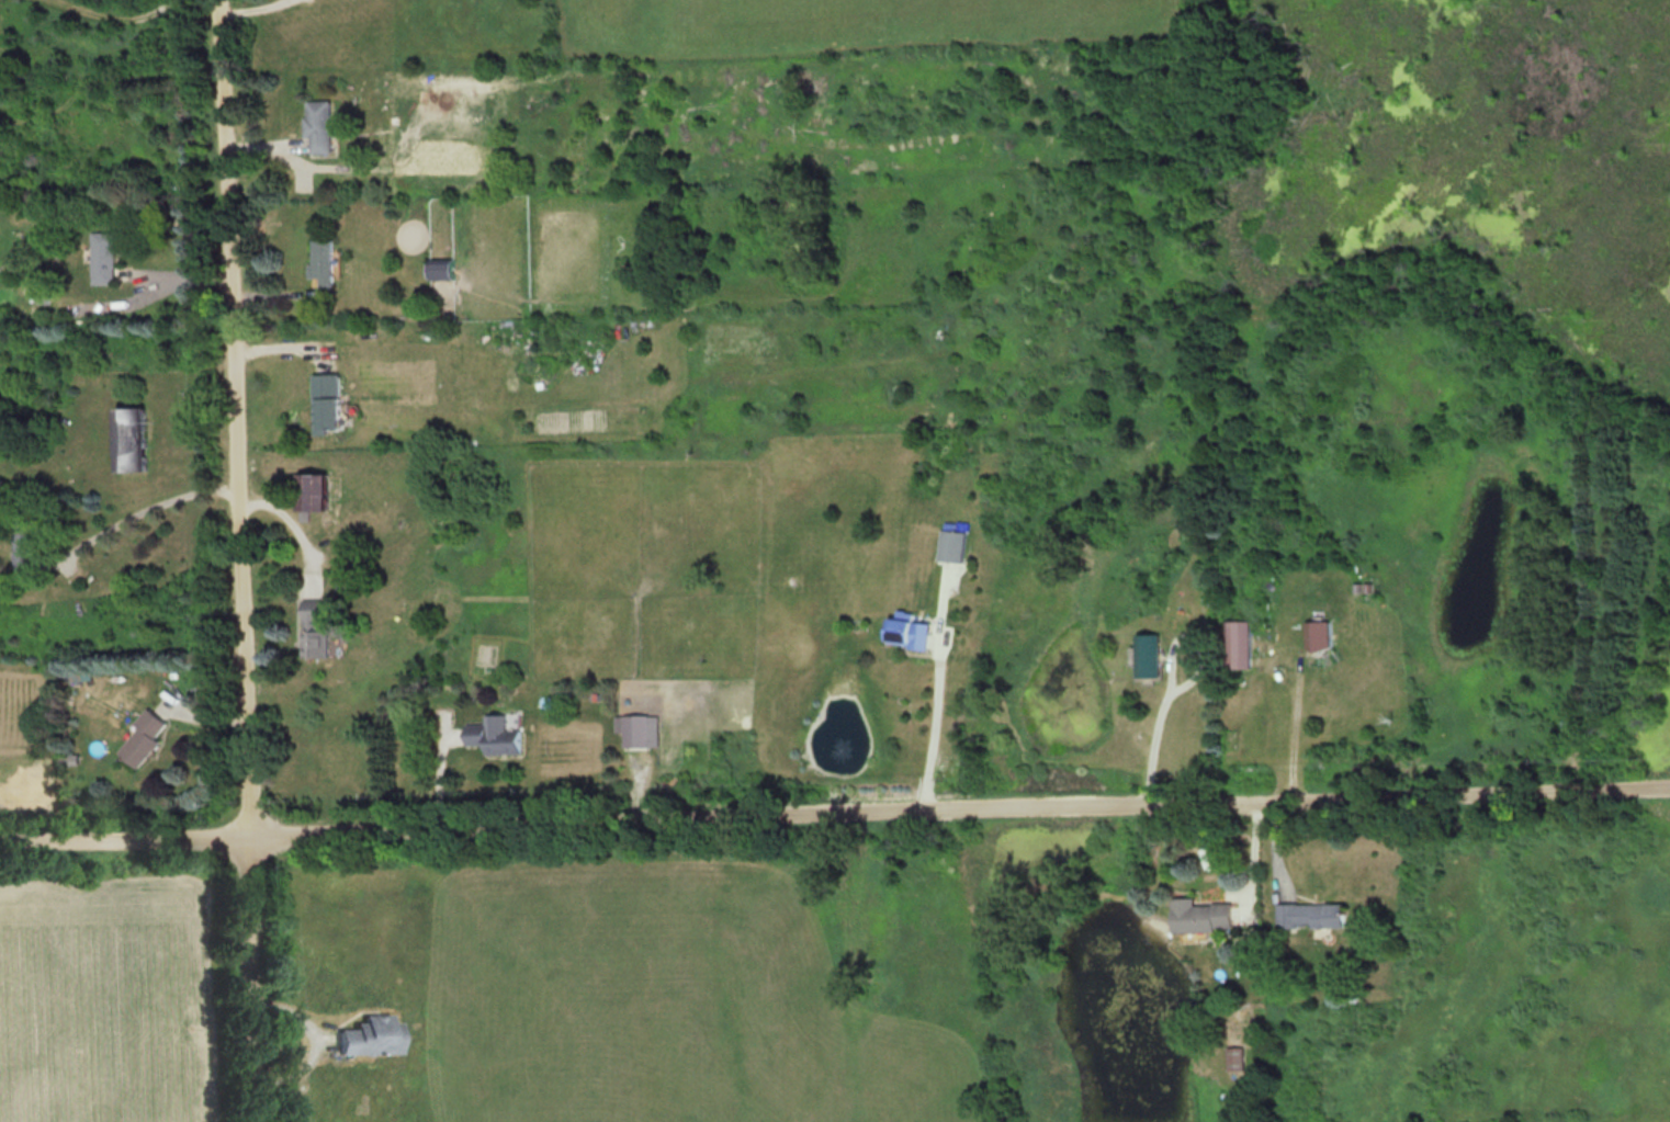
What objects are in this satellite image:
building: (399, 107)
building: (317, 125)
building: (102, 258)
building: (320, 261)
building: (439, 270)
road: (180, 277)
building: (326, 401)
road: (240, 415)
building: (129, 439)
building: (311, 494)
road: (151, 506)
road: (297, 519)
building: (23, 544)
building: (952, 546)
building: (313, 631)
building: (907, 633)
building: (1318, 636)
building: (1239, 645)
building: (1147, 656)
road: (1156, 726)
road: (1289, 727)
building: (635, 732)
road: (935, 732)
building: (495, 735)
building: (140, 740)
road: (834, 807)
building: (1200, 916)
building: (1311, 916)
road: (259, 975)
park: (123, 983)
building: (369, 1036)
building: (1235, 1058)

